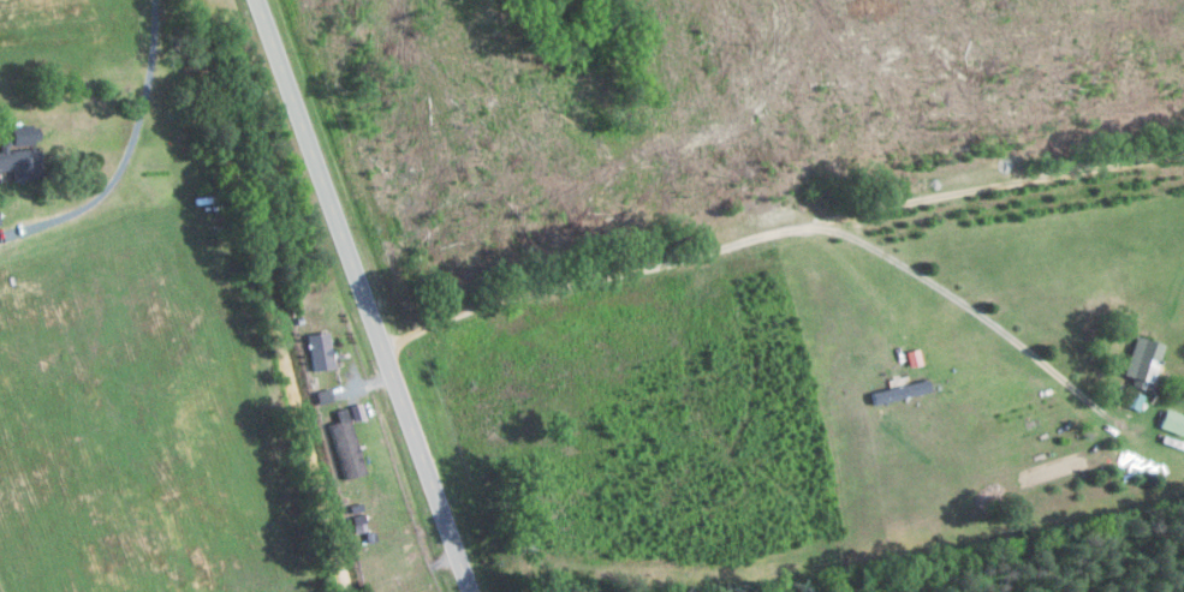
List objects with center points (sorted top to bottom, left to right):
road: (778, 160)
road: (274, 295)
road: (364, 295)
building: (319, 353)
building: (1138, 364)
building: (1131, 401)
building: (1170, 424)
building: (344, 448)
building: (374, 567)

